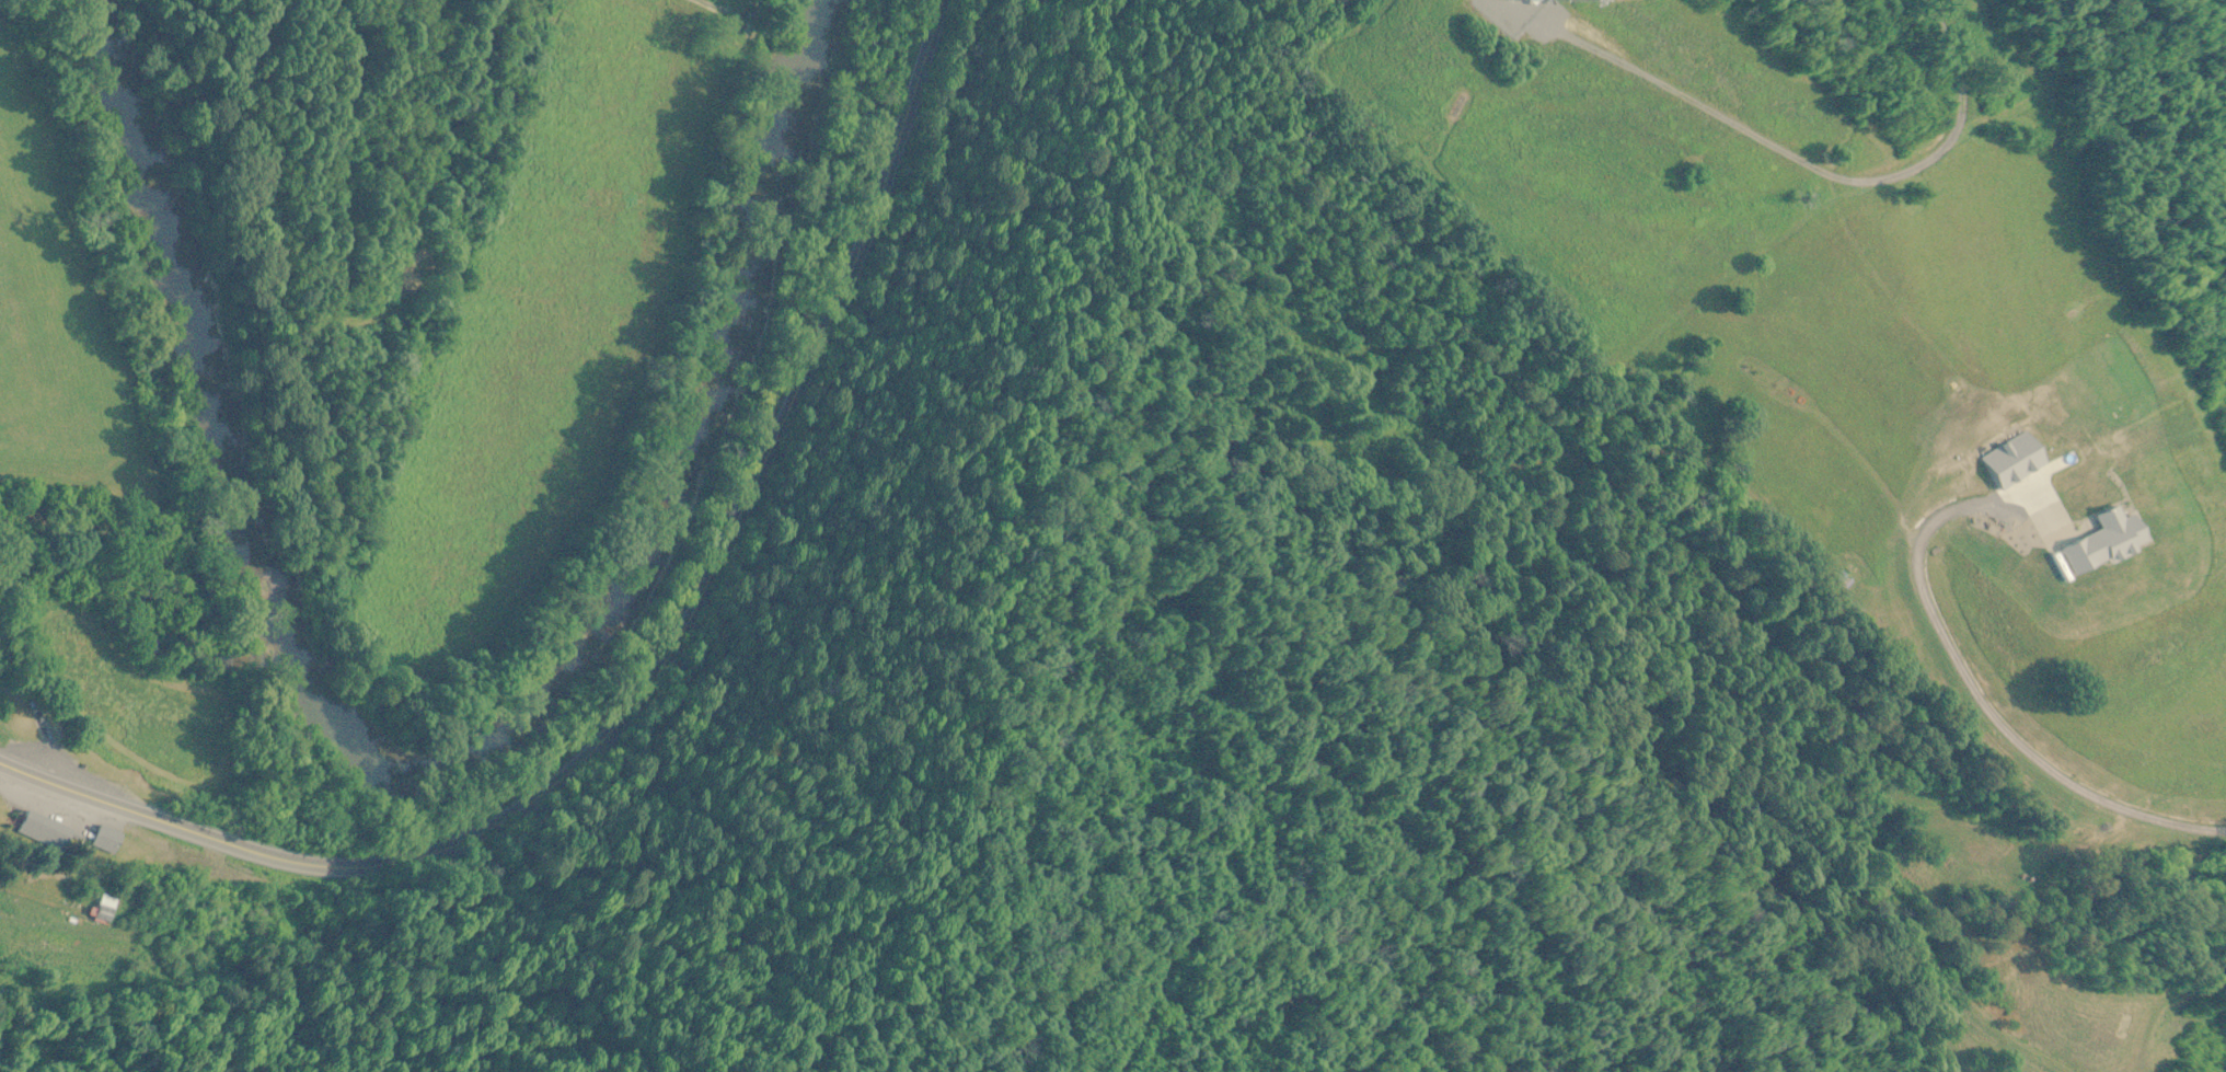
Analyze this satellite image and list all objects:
road: (643, 670)
river: (440, 760)

